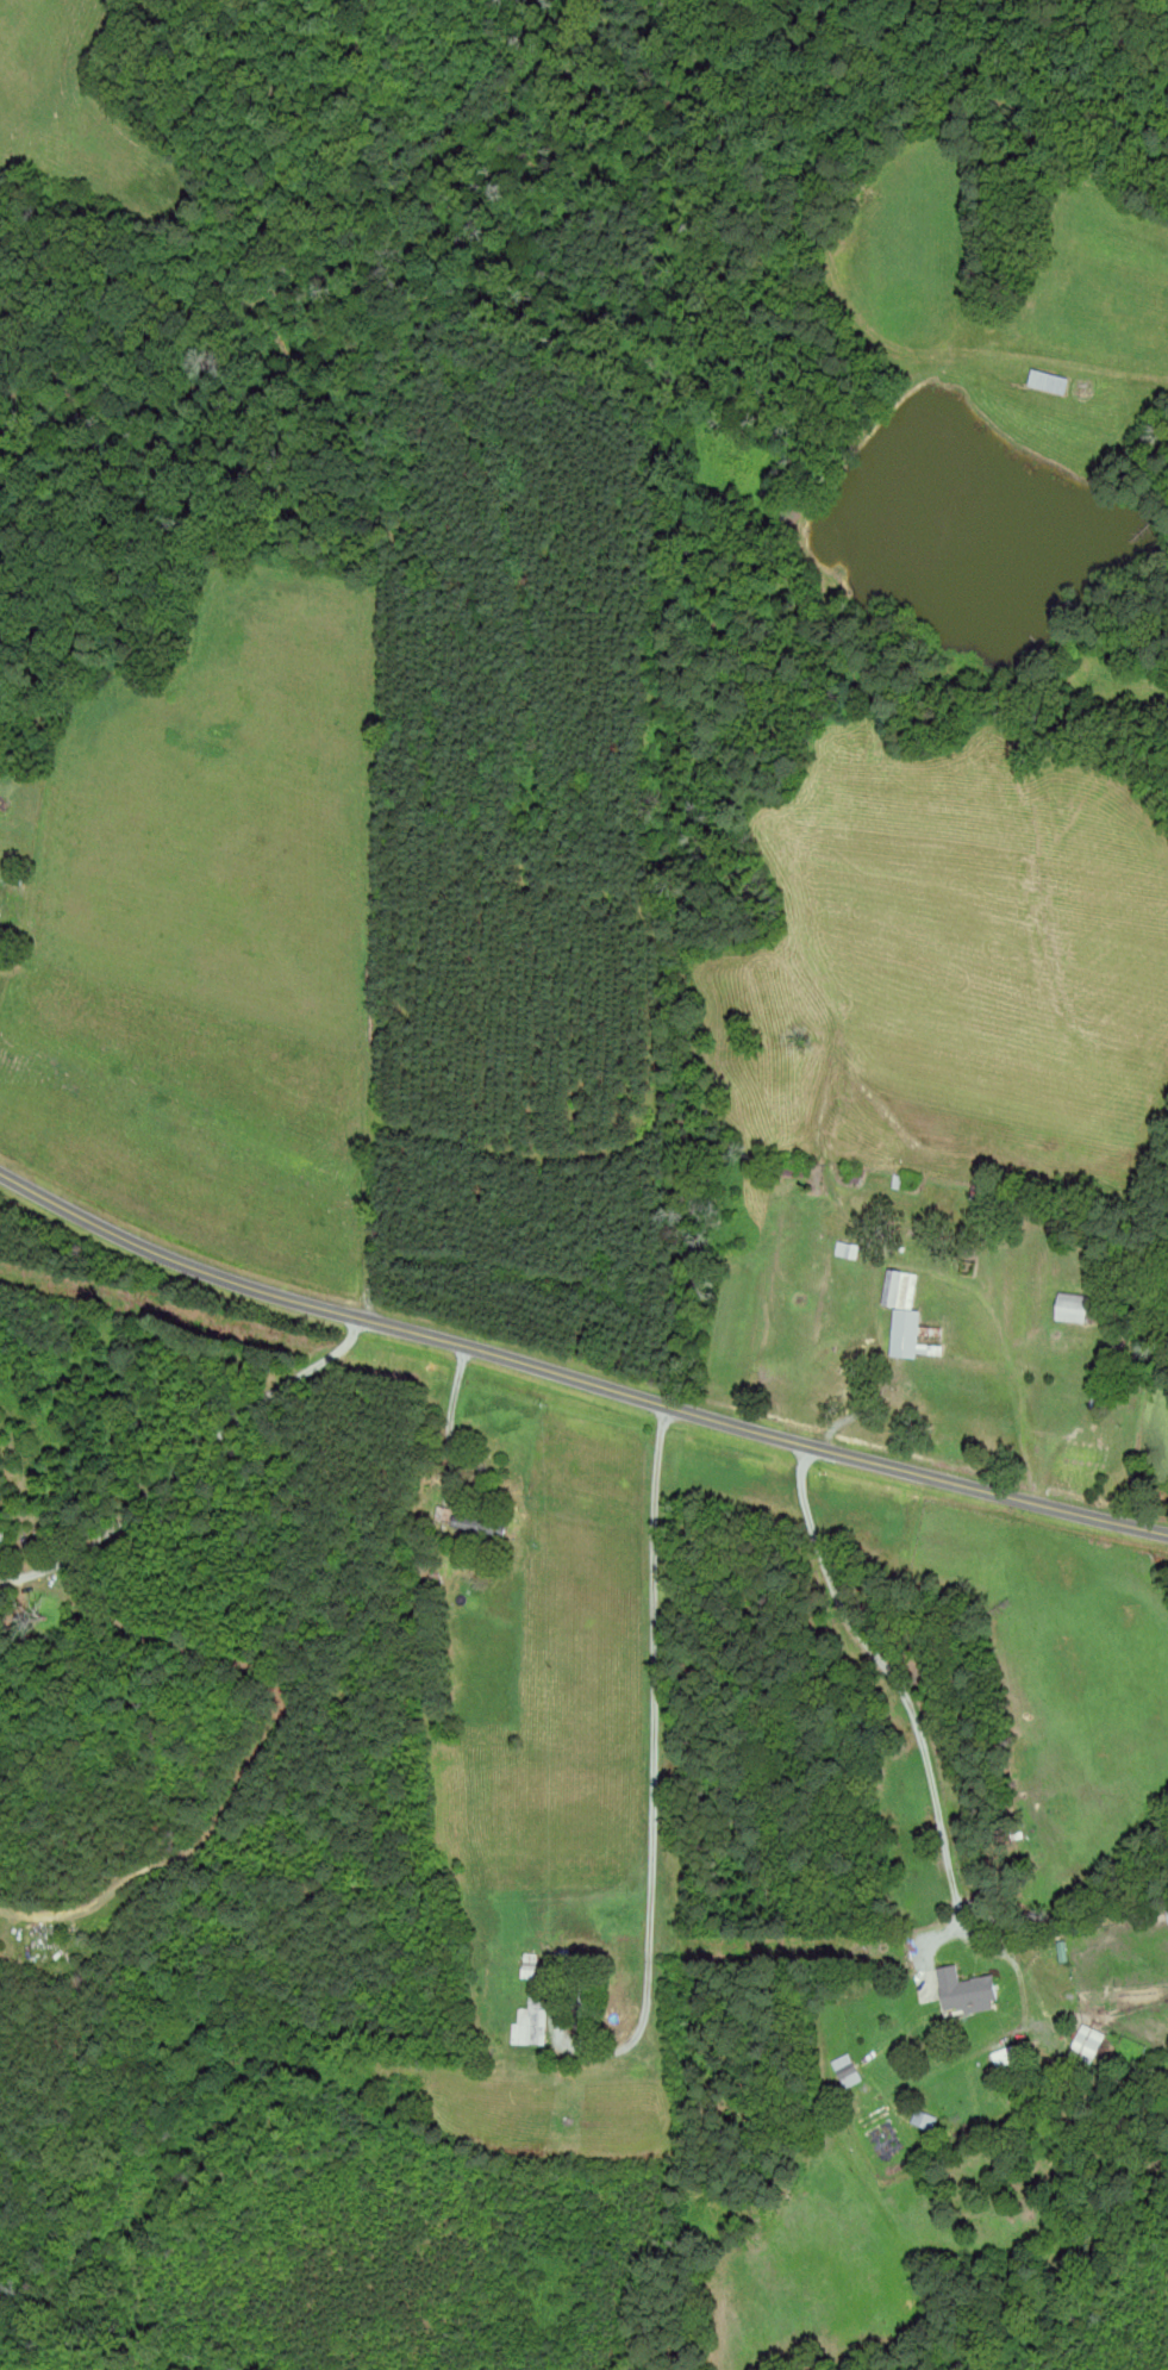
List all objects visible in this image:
building: (1050, 381)
road: (938, 1270)
building: (1074, 1308)
building: (905, 1312)
road: (575, 1376)
road: (451, 1416)
road: (188, 1460)
building: (479, 1526)
road: (894, 1682)
road: (654, 1751)
building: (530, 1965)
building: (966, 1989)
building: (581, 1998)
building: (532, 2022)
building: (1087, 2042)
building: (1005, 2054)
building: (847, 2069)
building: (925, 2118)

